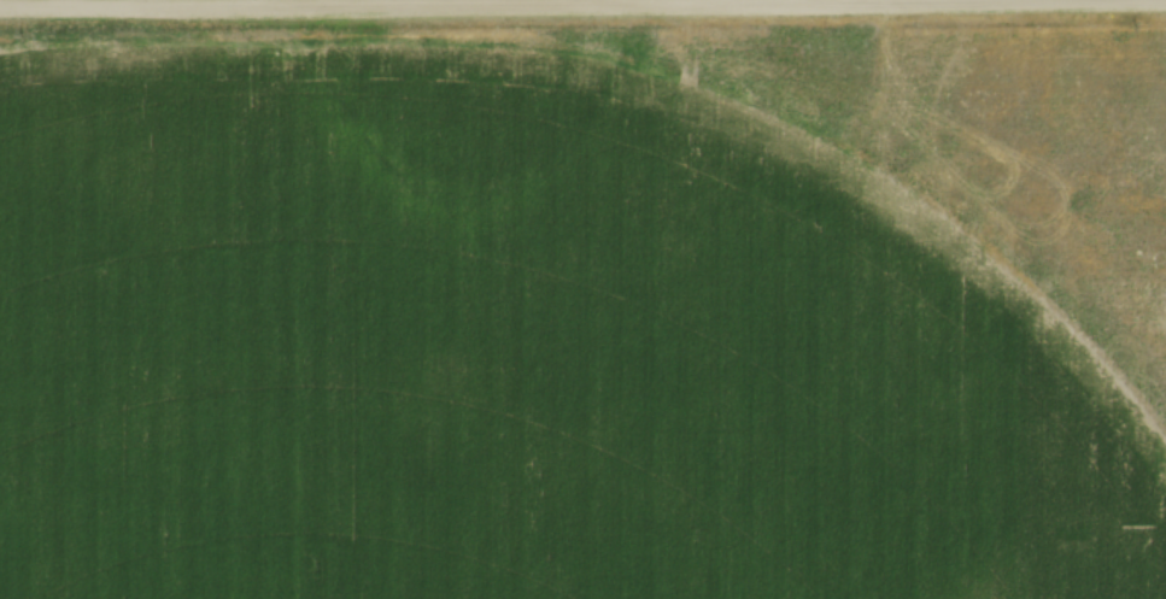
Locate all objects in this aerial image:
road: (582, 7)

